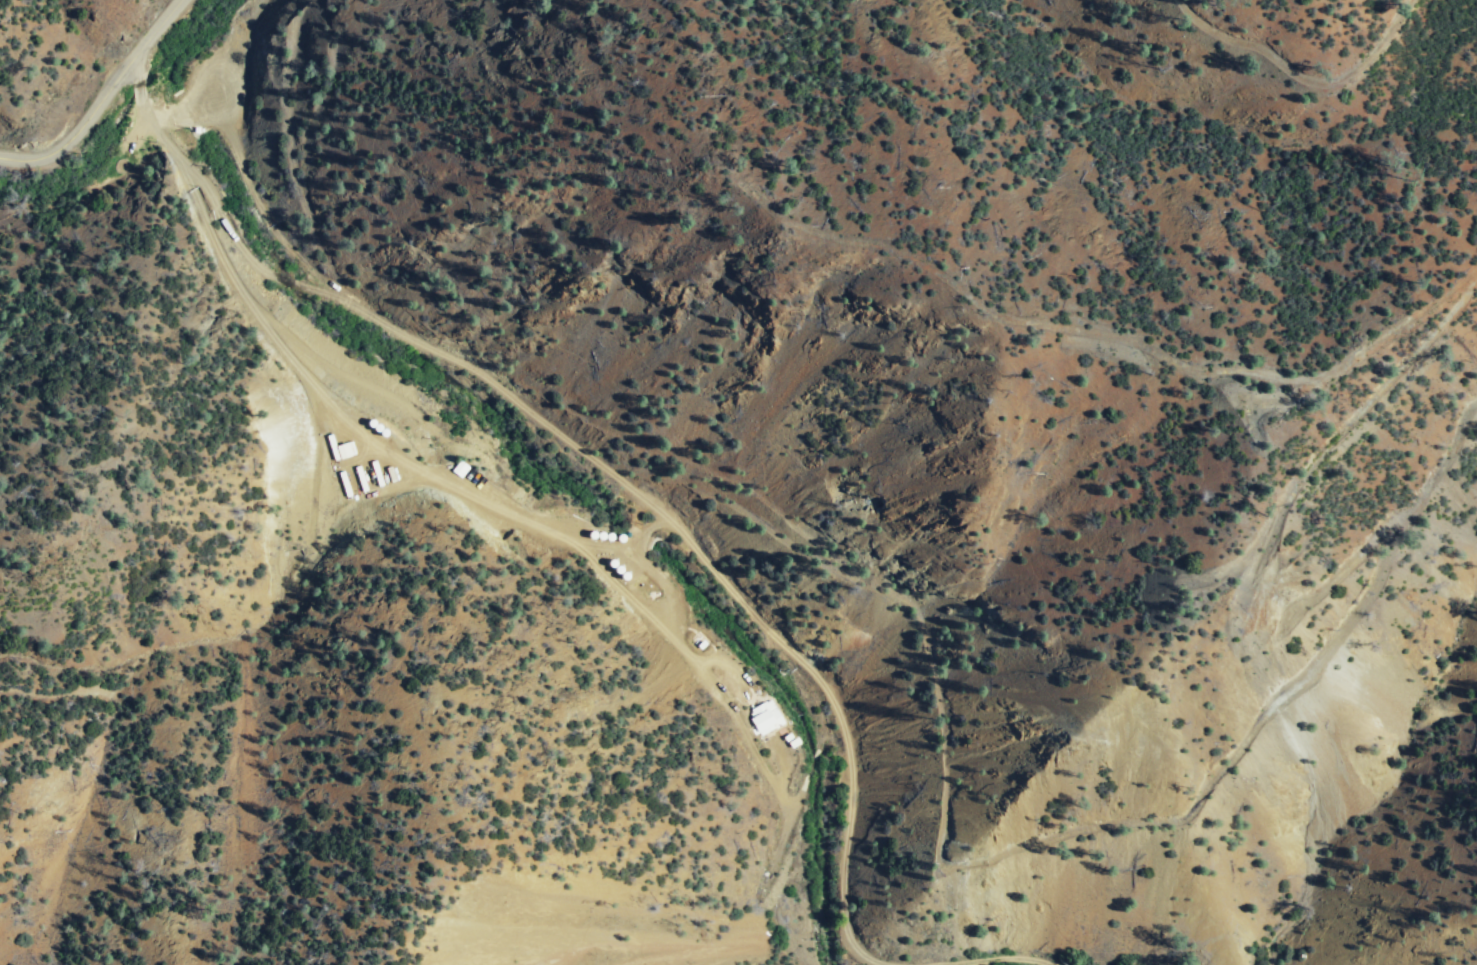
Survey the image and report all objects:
road: (108, 95)
road: (377, 451)
road: (595, 464)
building: (464, 478)
building: (507, 504)
building: (621, 569)
building: (764, 719)
road: (990, 961)

